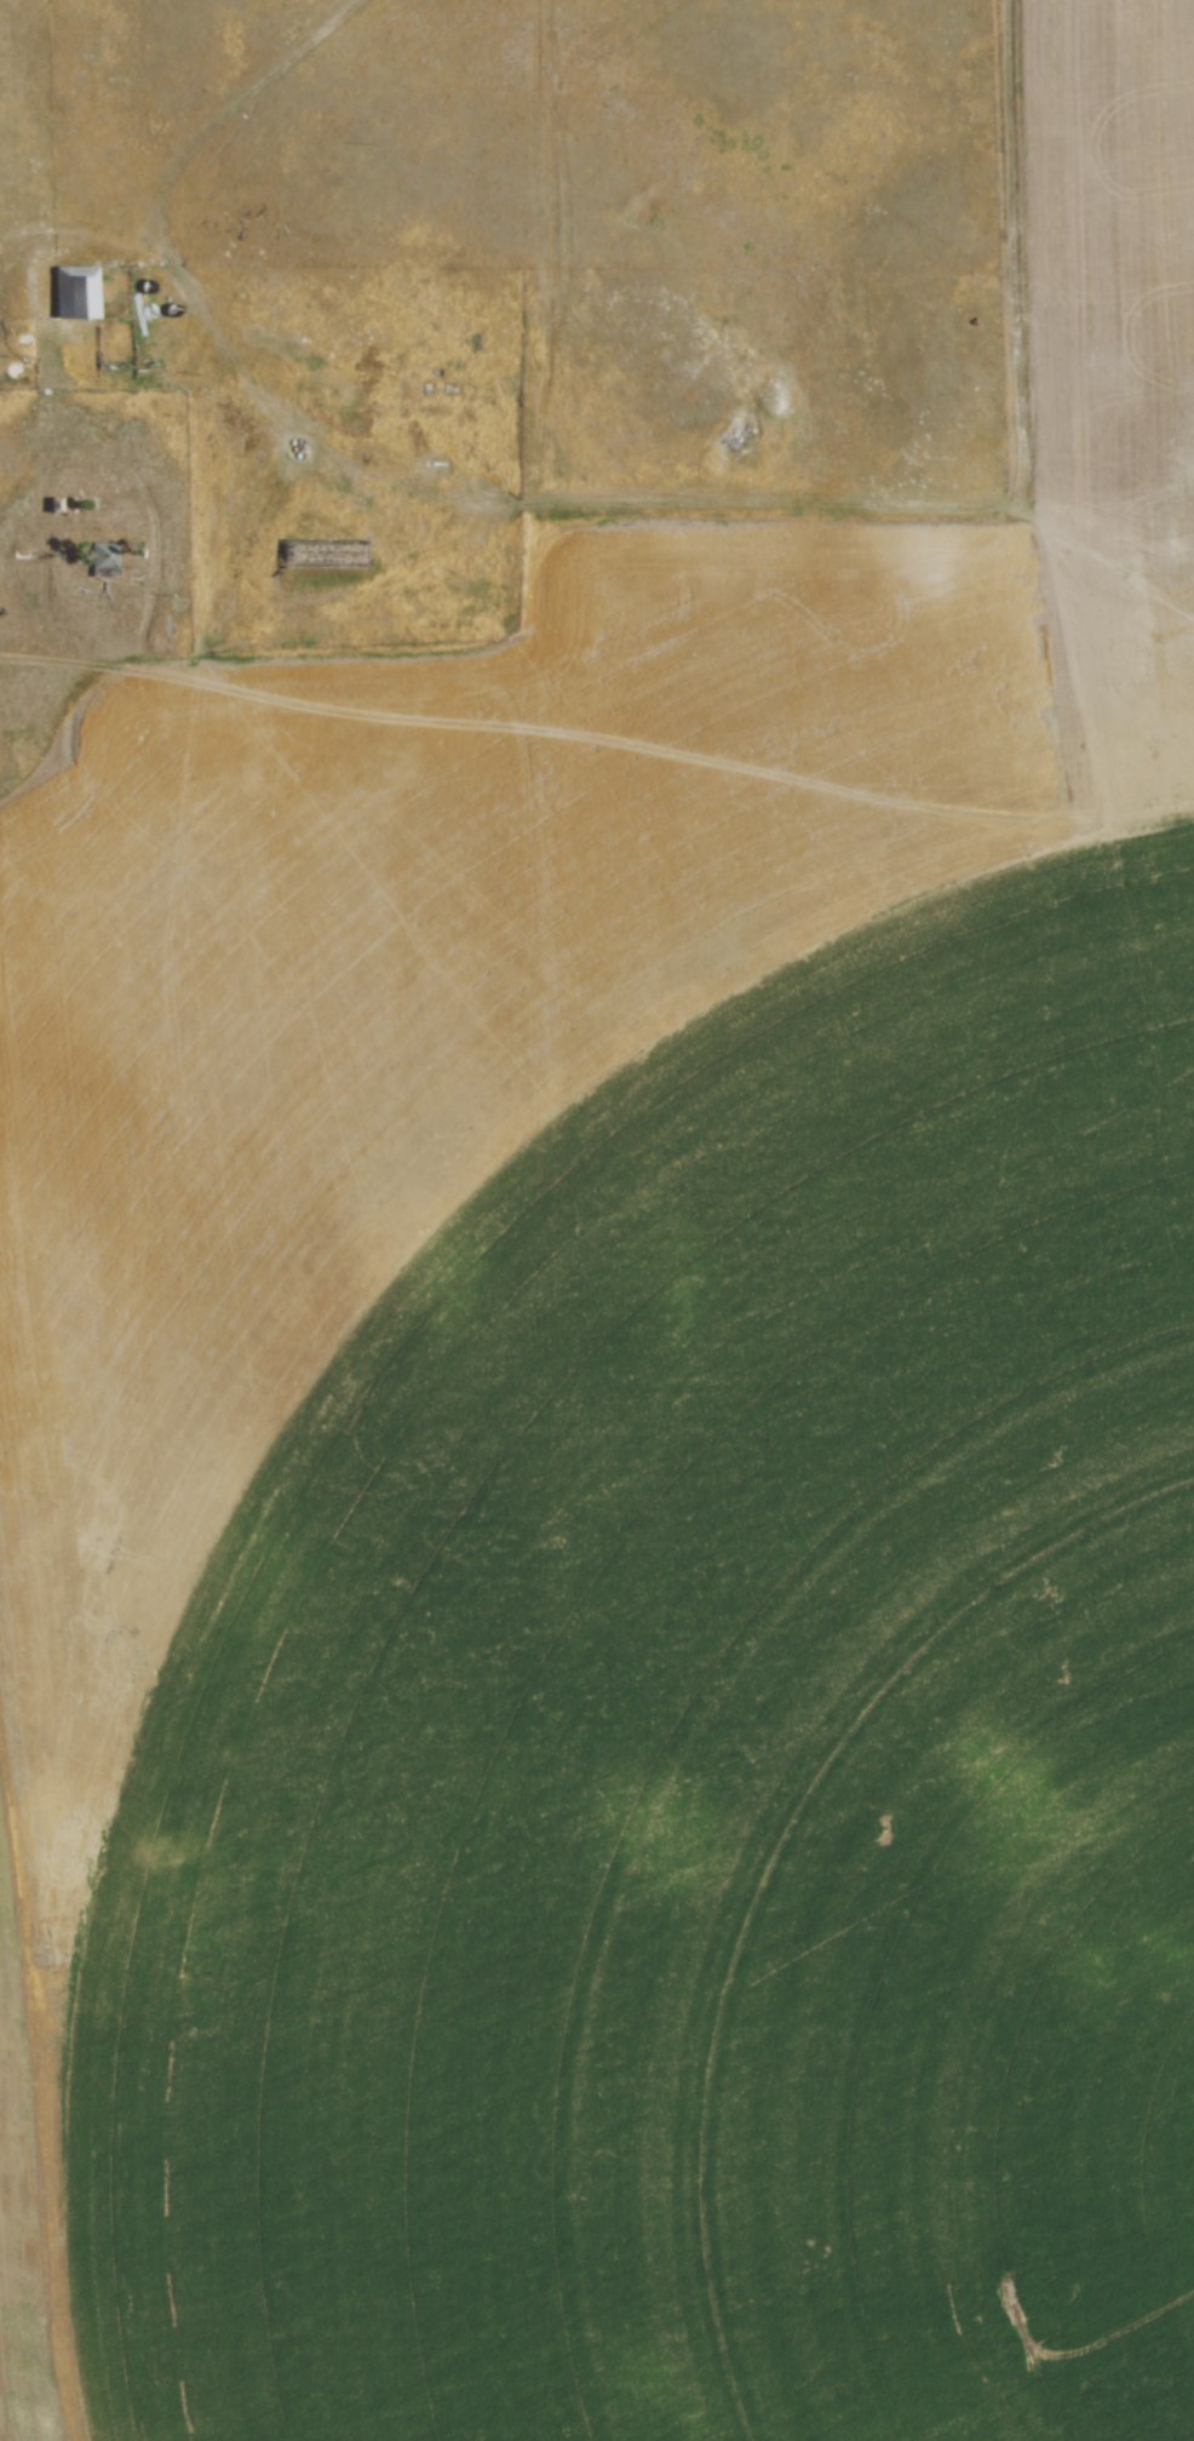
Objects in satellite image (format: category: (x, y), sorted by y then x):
building: (76, 290)
road: (786, 499)
building: (103, 555)
road: (240, 621)

